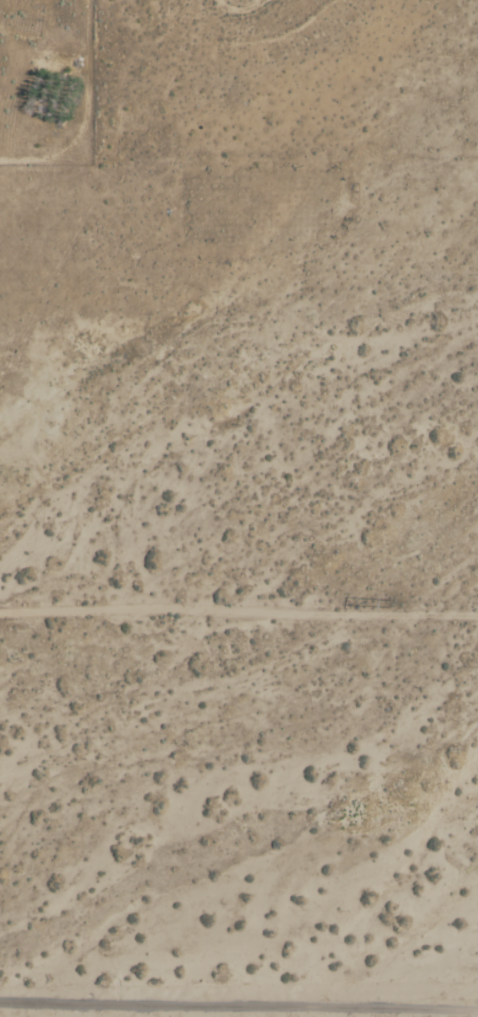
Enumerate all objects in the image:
power tower: (395, 603)
road: (239, 611)
road: (239, 992)

